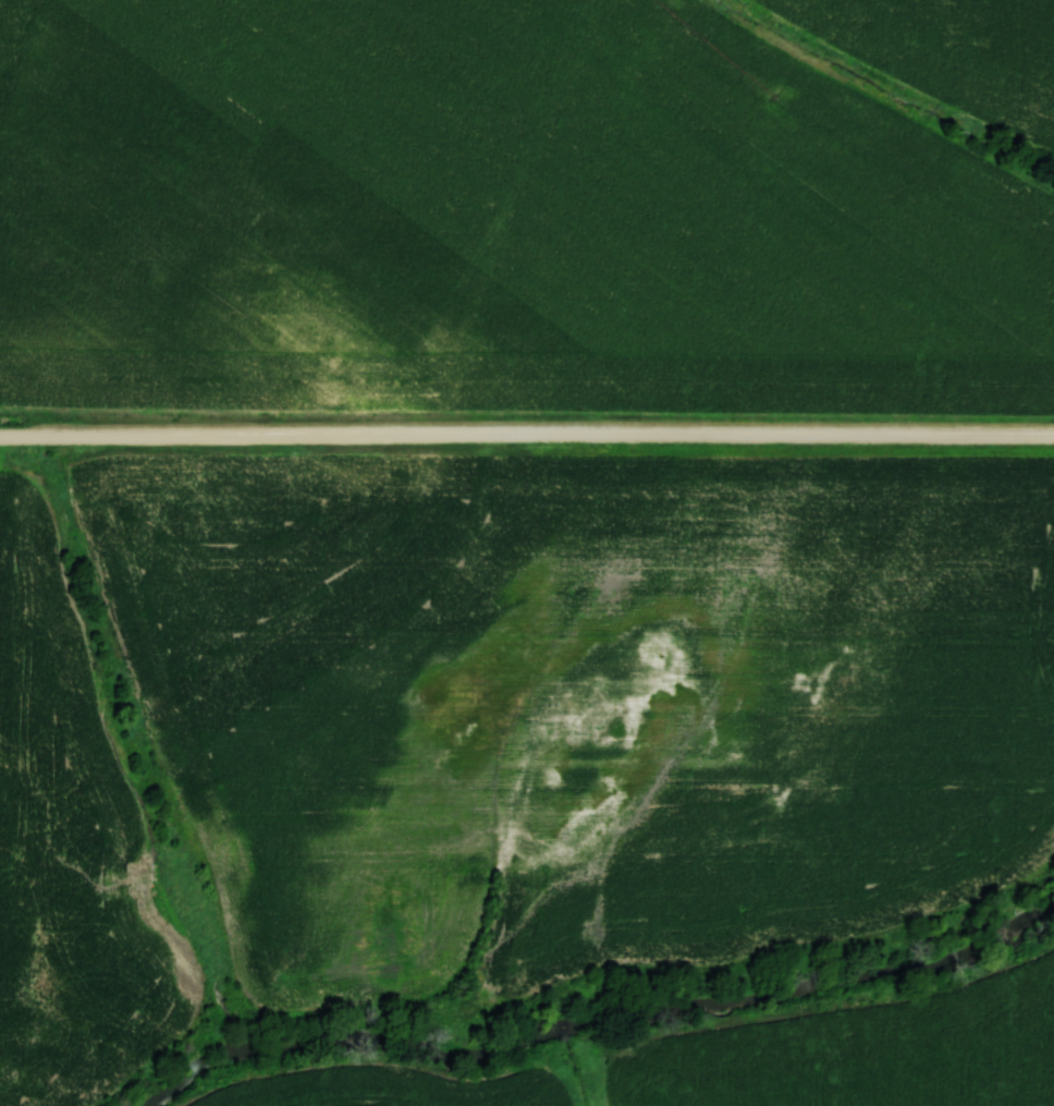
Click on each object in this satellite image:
road: (527, 438)

